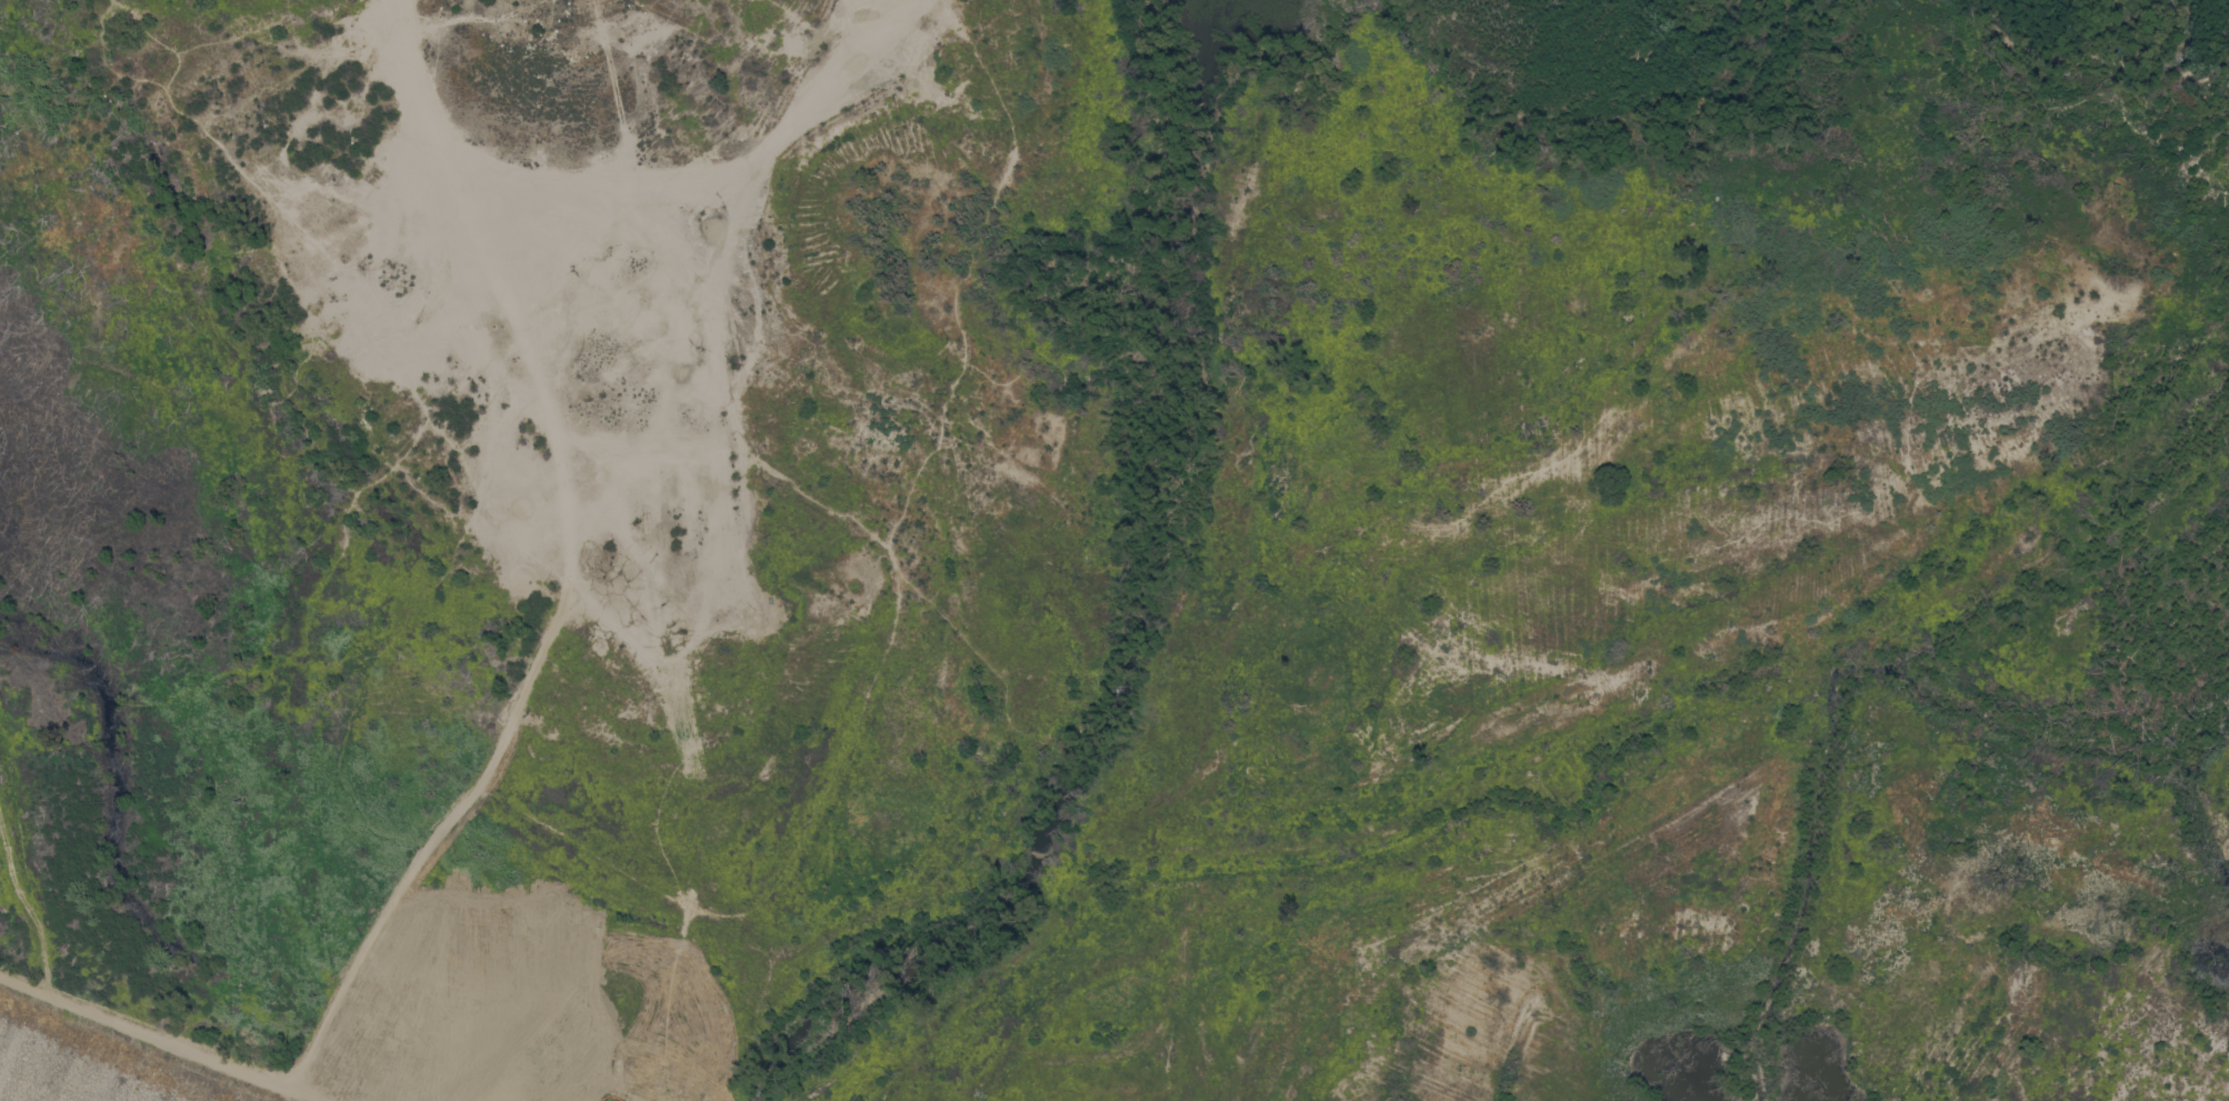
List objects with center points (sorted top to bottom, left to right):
river: (2097, 40)
road: (569, 563)
river: (1102, 647)
dam: (286, 989)
road: (166, 1042)
park: (83, 1073)
park: (83, 1073)

